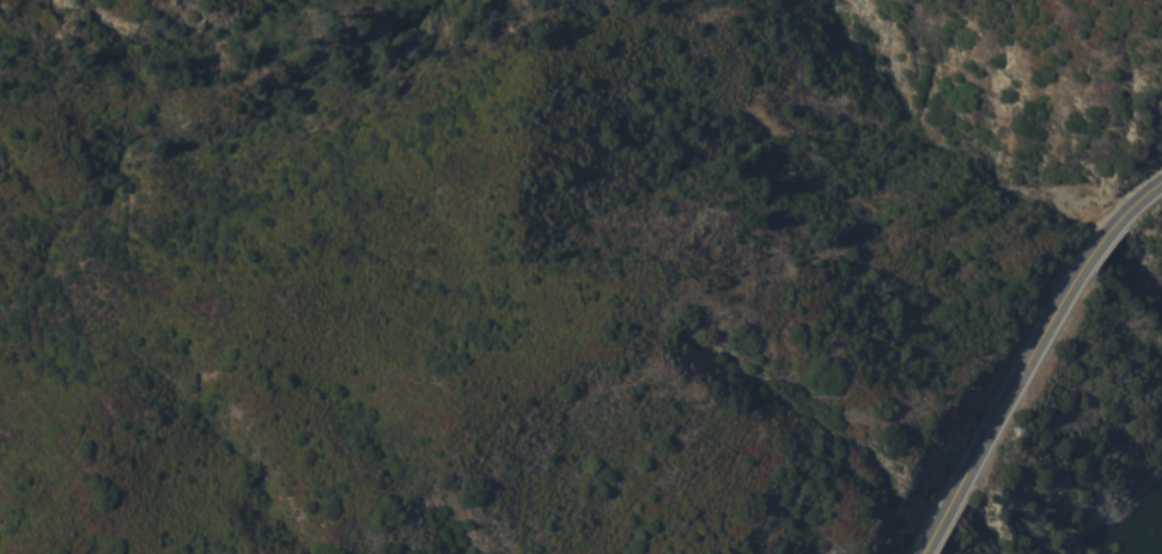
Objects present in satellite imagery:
road: (1039, 365)

